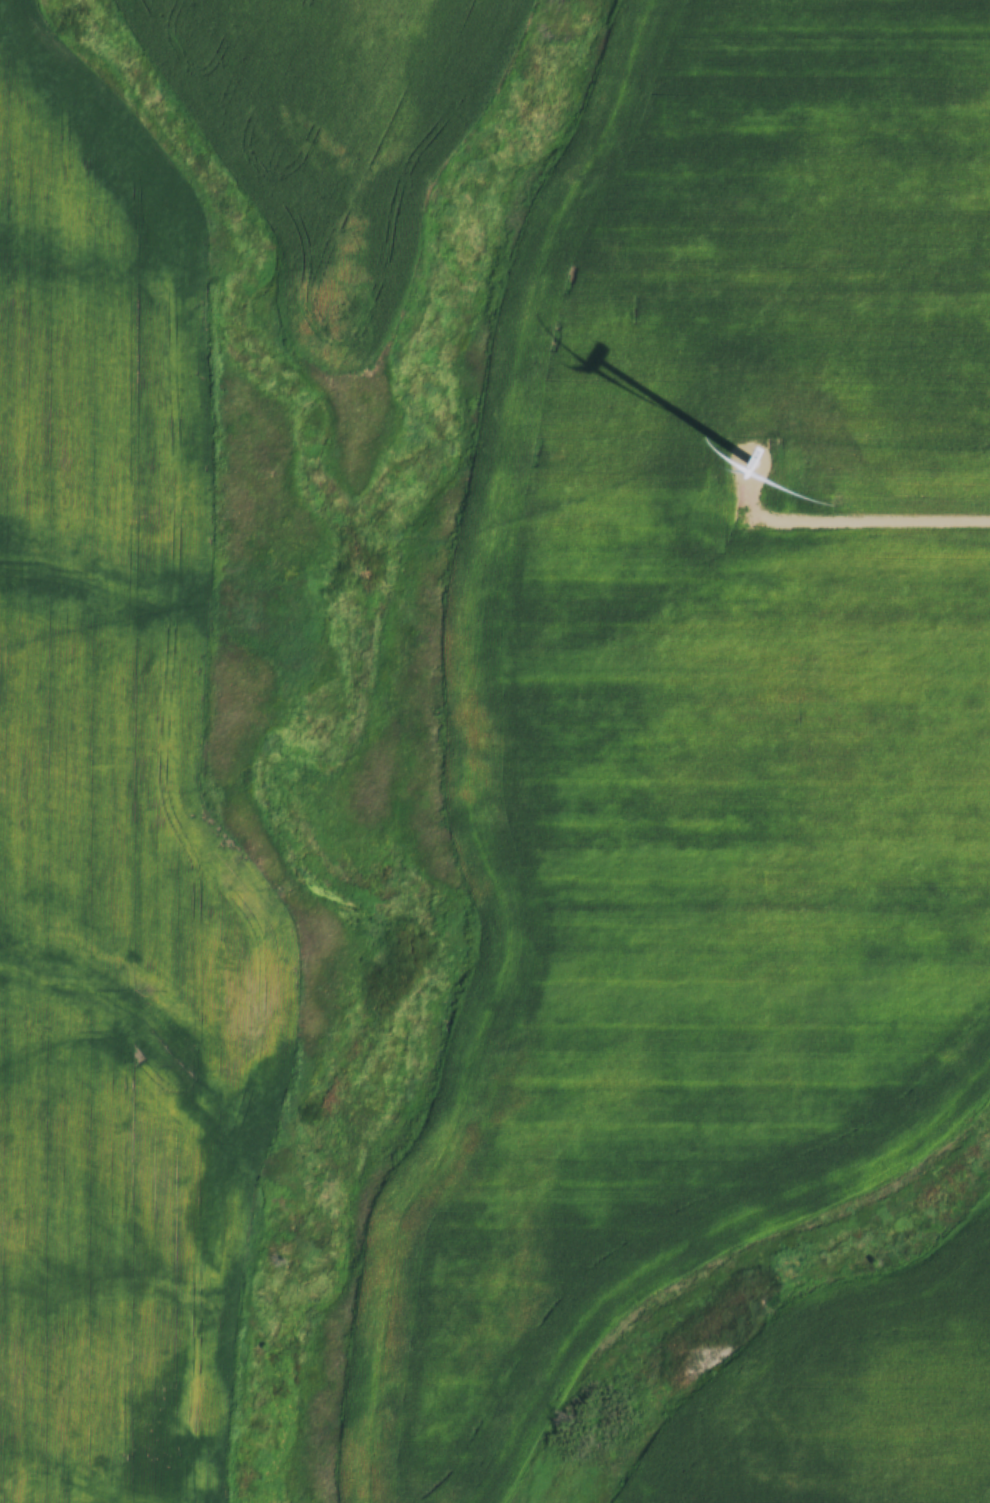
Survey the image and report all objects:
wind turbine: (754, 468)

